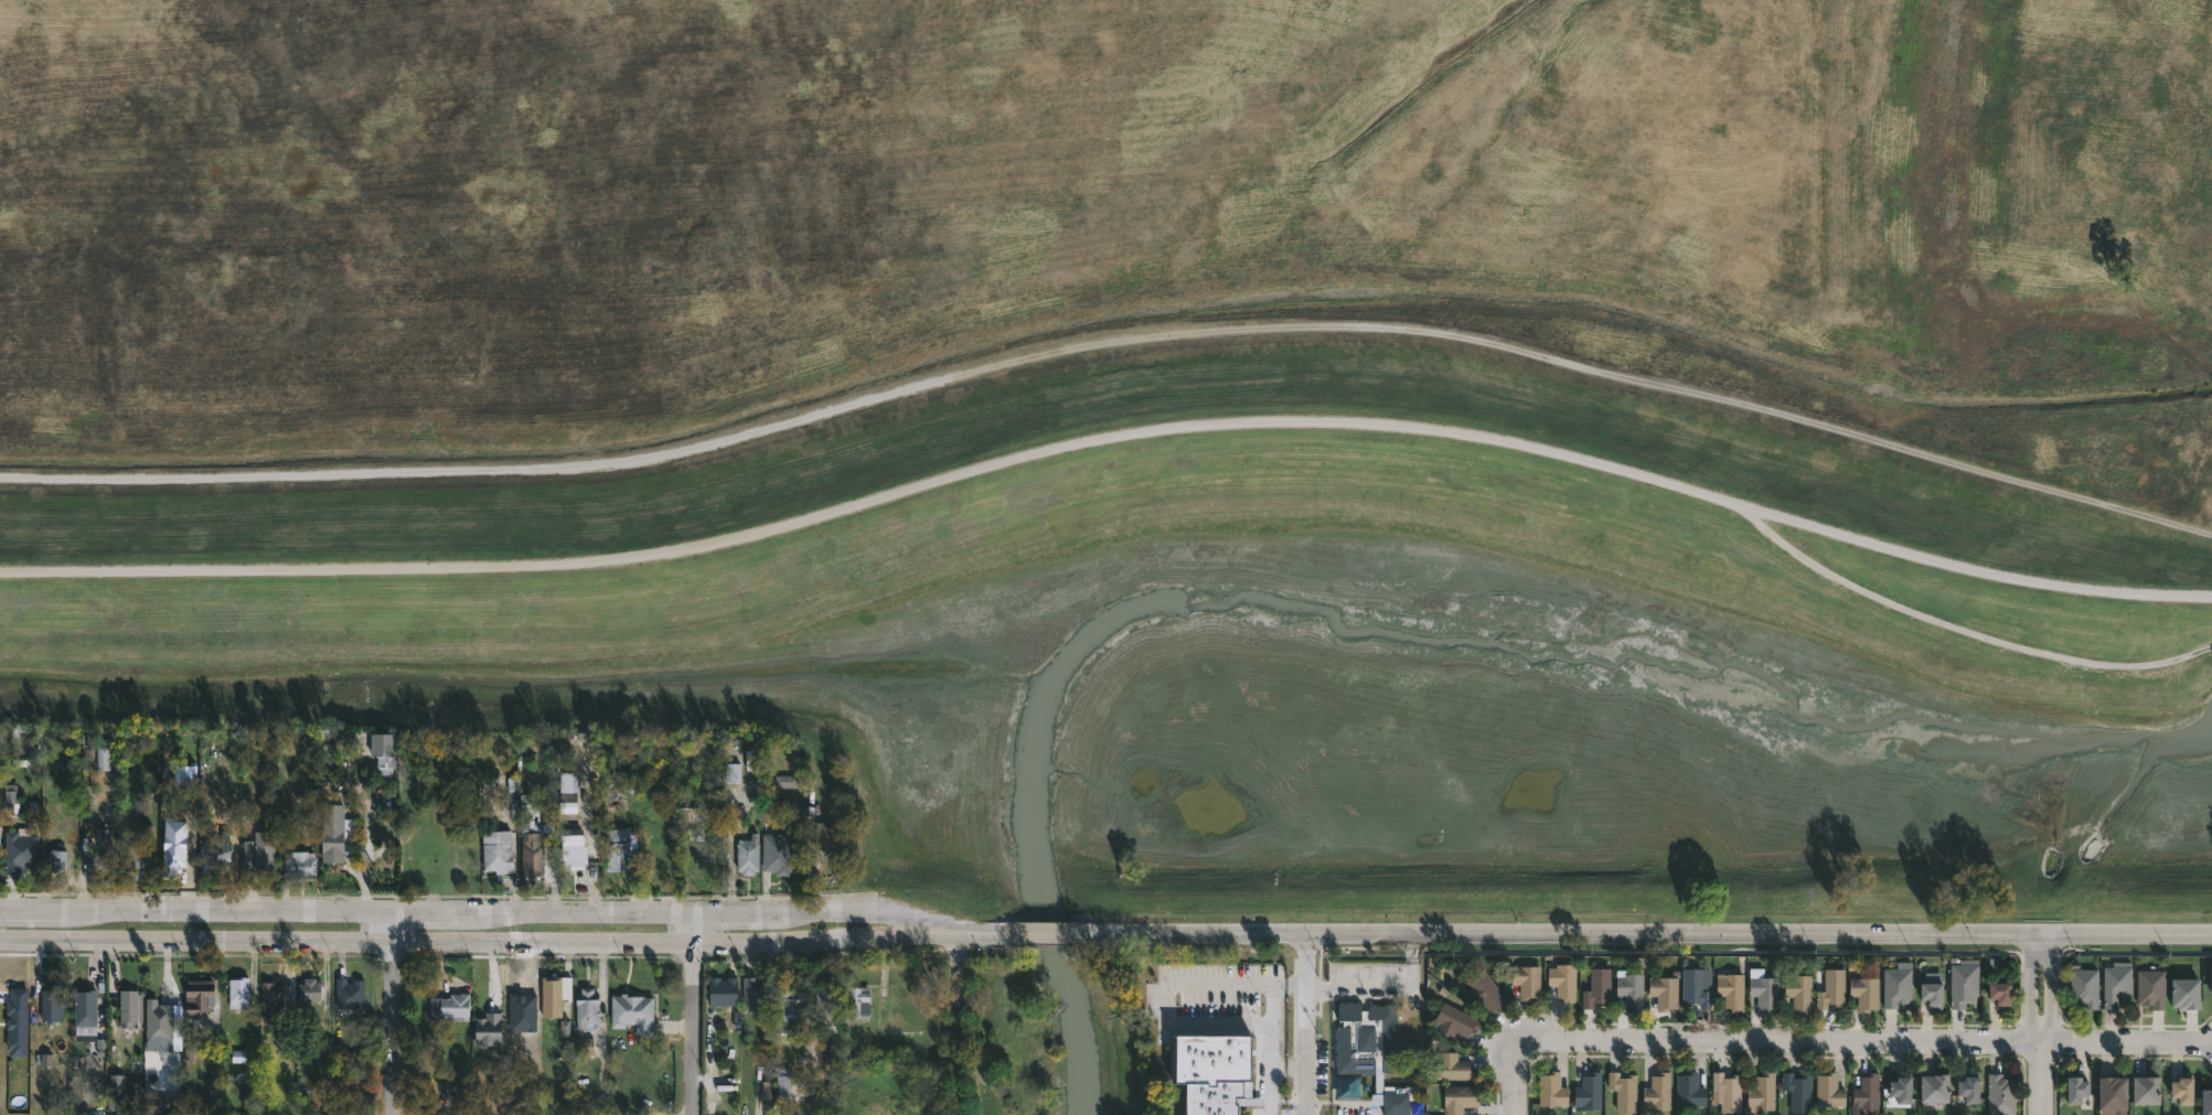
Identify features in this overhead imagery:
road: (1112, 339)
park: (1163, 420)
road: (1109, 436)
road: (1951, 626)
building: (40, 746)
building: (383, 754)
building: (105, 759)
building: (734, 774)
building: (185, 776)
building: (787, 783)
building: (569, 793)
building: (12, 798)
building: (615, 801)
building: (690, 822)
building: (331, 834)
building: (825, 835)
building: (530, 840)
building: (2095, 847)
building: (175, 850)
building: (261, 850)
building: (495, 850)
building: (623, 850)
building: (21, 851)
building: (777, 853)
building: (571, 856)
building: (746, 856)
building: (216, 857)
building: (58, 858)
building: (135, 861)
building: (100, 864)
building: (300, 865)
road: (470, 913)
road: (971, 931)
road: (1048, 932)
road: (1201, 933)
road: (1760, 935)
road: (469, 941)
building: (1562, 979)
building: (1527, 980)
building: (1964, 982)
building: (2117, 983)
building: (1896, 985)
building: (2084, 986)
building: (1596, 987)
building: (2150, 987)
building: (308, 988)
road: (1390, 988)
building: (1695, 988)
building: (1830, 988)
building: (1730, 989)
building: (1862, 989)
building: (720, 990)
parking lot: (1211, 990)
building: (1631, 990)
building: (1664, 990)
building: (1798, 990)
building: (1998, 990)
building: (755, 991)
building: (1764, 991)
building: (241, 993)
building: (348, 993)
building: (1486, 993)
building: (2183, 993)
building: (1933, 994)
building: (199, 995)
building: (554, 996)
building: (269, 1000)
building: (861, 1001)
building: (824, 1004)
building: (53, 1005)
building: (130, 1007)
building: (450, 1007)
building: (585, 1007)
building: (787, 1007)
building: (631, 1011)
building: (520, 1012)
road: (394, 1014)
road: (693, 1014)
road: (1272, 1014)
building: (86, 1015)
building: (1454, 1020)
building: (157, 1021)
building: (15, 1023)
road: (1308, 1025)
road: (2040, 1025)
building: (489, 1027)
building: (1365, 1039)
road: (1861, 1044)
building: (1452, 1066)
building: (214, 1072)
building: (1215, 1073)
road: (1271, 1075)
road: (1513, 1078)
building: (784, 1085)
building: (118, 1086)
building: (1901, 1087)
building: (1935, 1087)
building: (1969, 1089)
building: (1551, 1090)
building: (1689, 1090)
building: (2076, 1090)
building: (2146, 1090)
building: (2183, 1090)
building: (1589, 1091)
building: (1623, 1091)
building: (1658, 1091)
building: (1728, 1091)
building: (1797, 1091)
building: (1828, 1091)
building: (1762, 1092)
building: (2113, 1092)
building: (1866, 1093)
building: (2000, 1094)
building: (460, 1097)
building: (1457, 1097)
building: (1394, 1098)
building: (2206, 1102)

